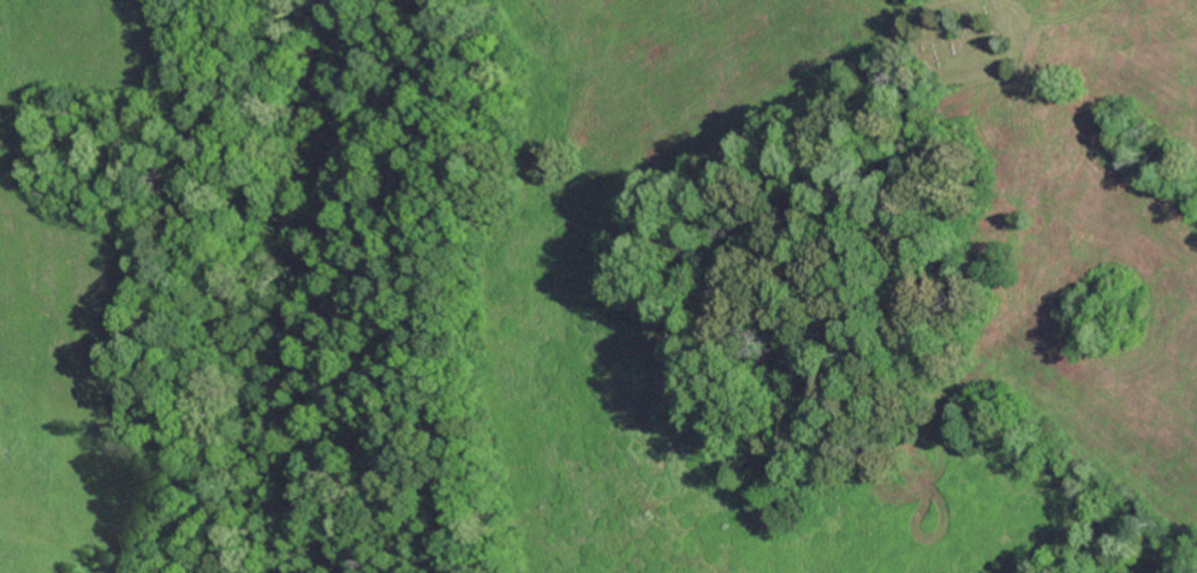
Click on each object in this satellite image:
park: (957, 44)

